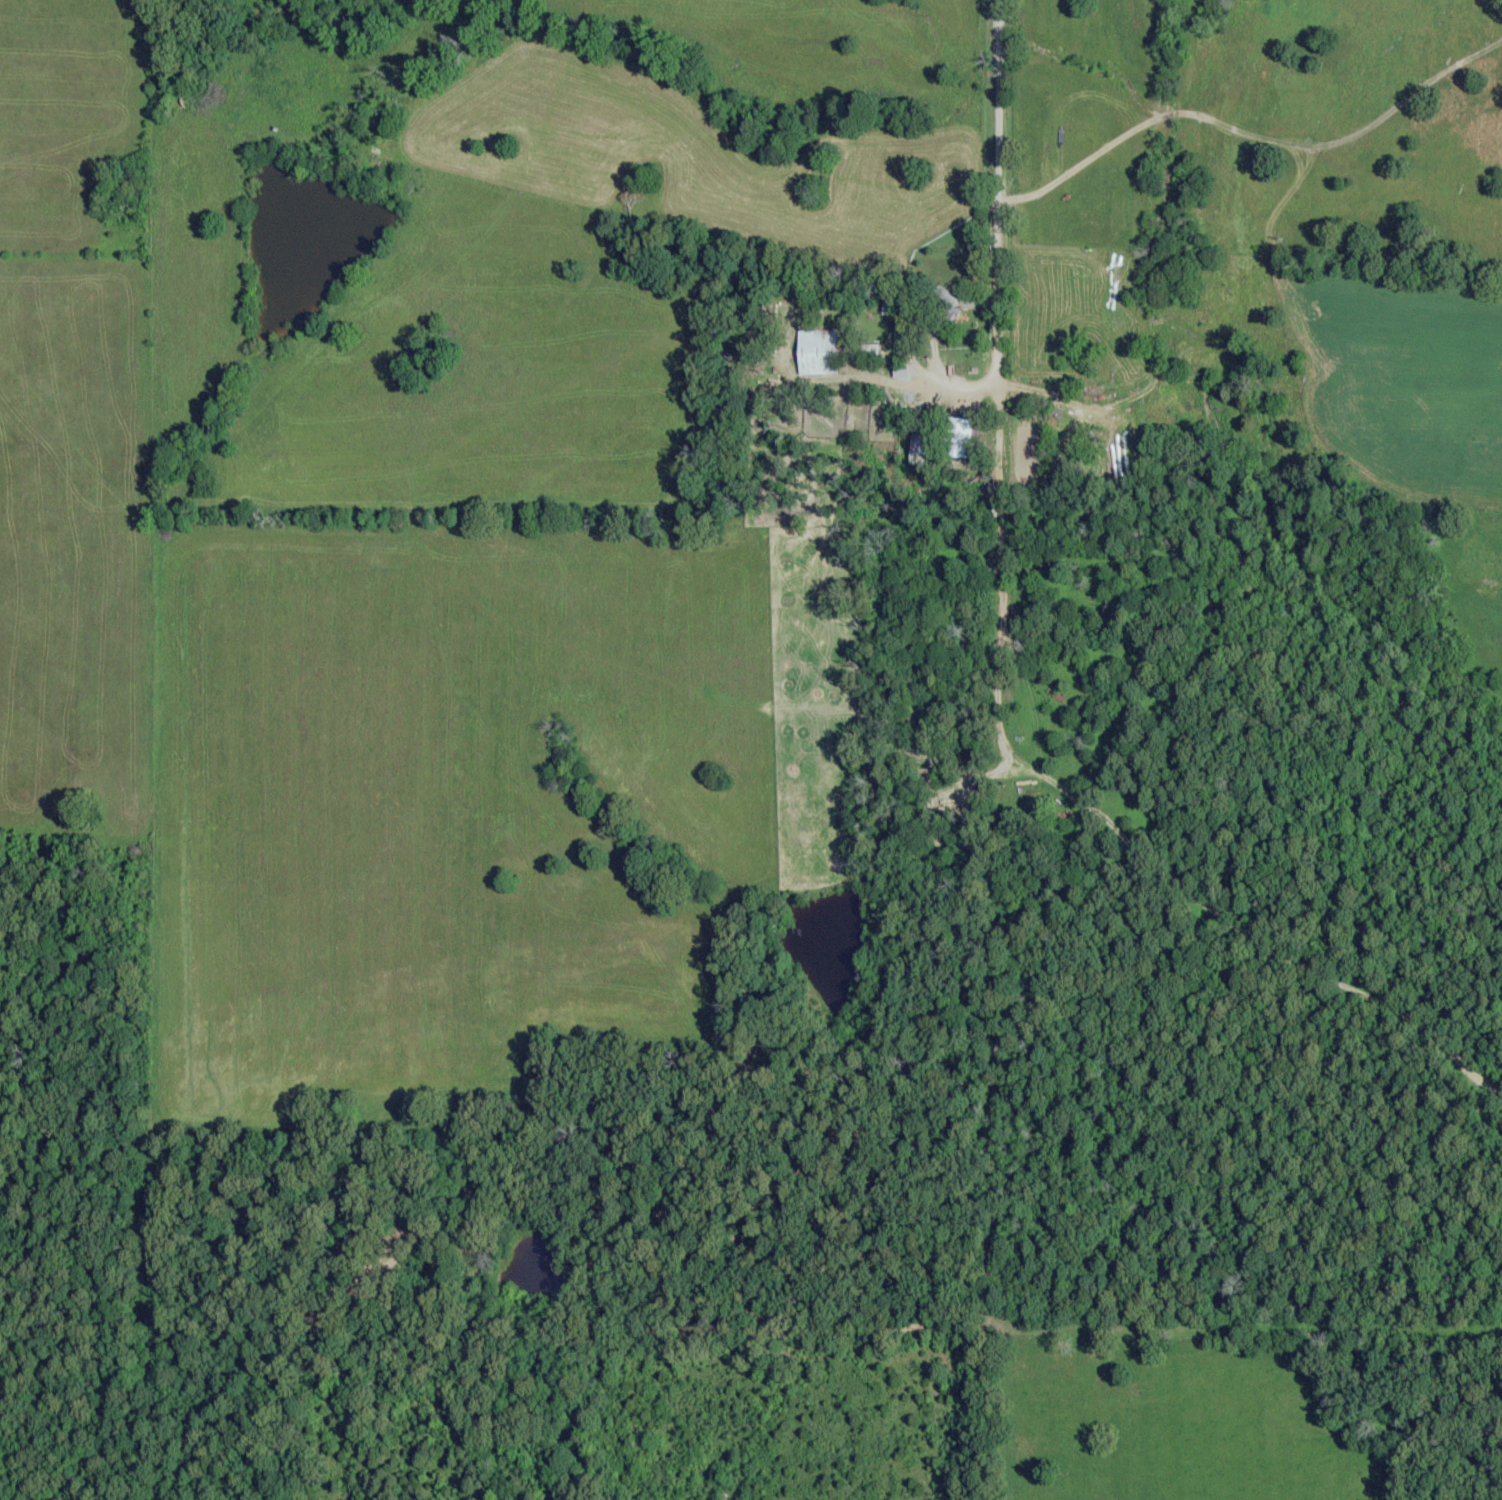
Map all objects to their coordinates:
road: (993, 185)
building: (934, 300)
building: (818, 352)
building: (956, 437)

